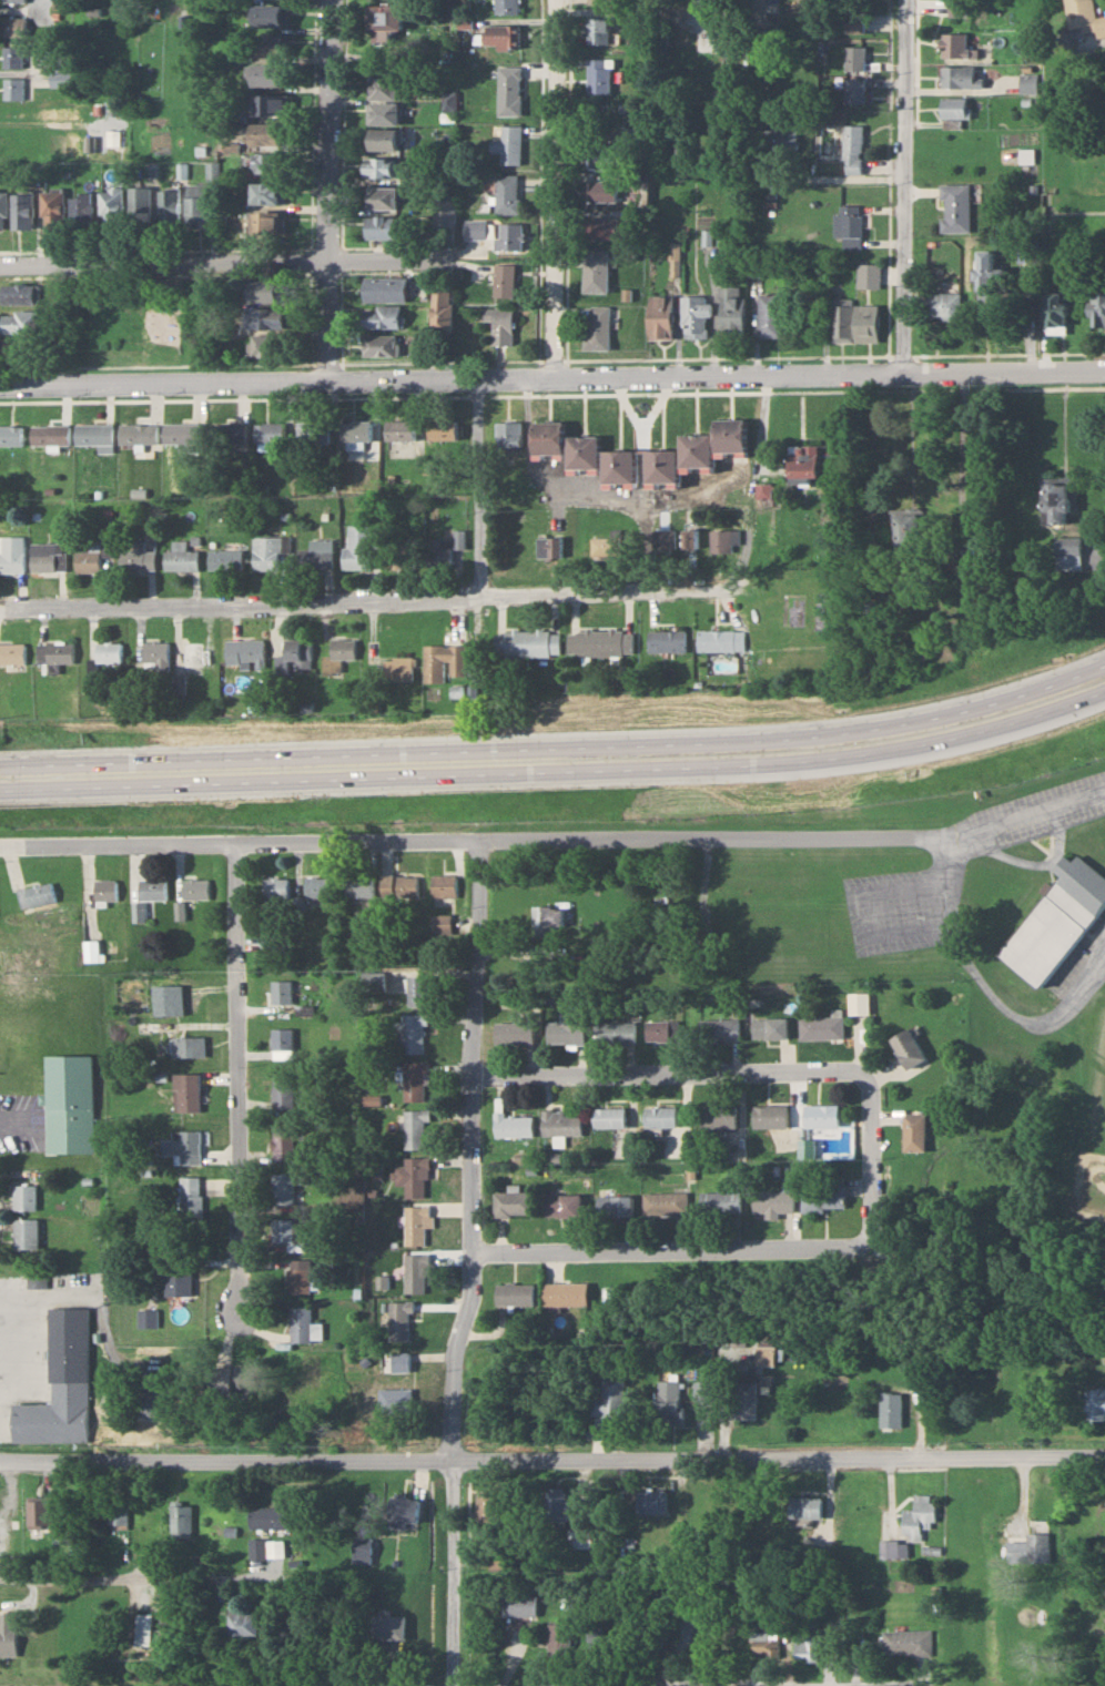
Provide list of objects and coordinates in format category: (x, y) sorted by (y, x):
building: (14, 1)
building: (599, 1)
building: (507, 6)
building: (956, 7)
building: (270, 14)
building: (384, 17)
building: (1083, 20)
building: (854, 21)
building: (14, 27)
building: (597, 29)
building: (501, 35)
building: (730, 38)
building: (761, 41)
building: (267, 43)
building: (954, 45)
building: (13, 57)
building: (854, 58)
building: (268, 73)
building: (598, 75)
building: (959, 77)
building: (1027, 82)
building: (383, 87)
building: (14, 88)
building: (508, 89)
building: (854, 90)
building: (448, 100)
building: (270, 103)
building: (953, 106)
building: (383, 113)
building: (266, 133)
building: (383, 138)
building: (775, 139)
building: (508, 143)
building: (852, 149)
building: (601, 154)
building: (268, 162)
building: (383, 166)
building: (762, 172)
road: (557, 186)
road: (905, 186)
road: (332, 189)
building: (600, 191)
building: (268, 192)
building: (507, 193)
building: (383, 196)
building: (199, 206)
building: (3, 207)
building: (53, 207)
building: (113, 207)
building: (142, 207)
building: (171, 207)
building: (955, 207)
building: (23, 210)
building: (83, 210)
building: (444, 210)
building: (268, 221)
building: (381, 225)
building: (849, 225)
building: (601, 227)
building: (474, 228)
building: (508, 236)
road: (217, 256)
building: (596, 271)
building: (989, 275)
building: (504, 280)
building: (384, 288)
building: (267, 291)
building: (21, 293)
building: (943, 306)
building: (1097, 308)
building: (732, 309)
building: (443, 311)
building: (1056, 311)
building: (383, 315)
building: (696, 315)
building: (771, 315)
building: (265, 316)
building: (660, 317)
building: (20, 321)
building: (856, 323)
building: (500, 324)
building: (597, 327)
building: (267, 344)
building: (379, 344)
building: (20, 346)
road: (551, 374)
building: (399, 429)
building: (442, 429)
building: (227, 431)
building: (270, 431)
building: (313, 431)
building: (51, 433)
building: (139, 433)
building: (183, 433)
building: (355, 433)
building: (11, 434)
building: (729, 434)
building: (97, 435)
building: (508, 435)
building: (547, 436)
building: (695, 449)
building: (582, 451)
building: (804, 460)
building: (660, 465)
building: (619, 466)
road: (478, 487)
road: (977, 488)
building: (764, 490)
road: (658, 502)
building: (1057, 502)
building: (911, 531)
building: (689, 538)
building: (665, 539)
building: (728, 540)
building: (549, 546)
building: (358, 547)
building: (604, 547)
building: (442, 549)
building: (12, 553)
building: (266, 553)
building: (398, 553)
building: (1069, 553)
building: (315, 555)
building: (50, 557)
building: (139, 557)
building: (181, 557)
building: (89, 559)
building: (225, 559)
road: (670, 590)
road: (240, 602)
building: (875, 612)
building: (720, 640)
building: (665, 641)
building: (599, 642)
building: (526, 643)
building: (342, 649)
building: (110, 652)
building: (156, 652)
building: (245, 652)
building: (12, 653)
building: (57, 653)
building: (295, 654)
building: (193, 657)
building: (443, 662)
building: (398, 669)
road: (557, 746)
road: (557, 770)
road: (1026, 811)
road: (474, 844)
building: (444, 885)
building: (318, 886)
building: (358, 886)
building: (401, 886)
building: (277, 887)
building: (153, 888)
building: (196, 888)
building: (105, 890)
building: (37, 894)
building: (139, 912)
building: (550, 920)
building: (1055, 921)
building: (442, 925)
building: (701, 933)
building: (282, 941)
road: (359, 946)
building: (91, 951)
road: (991, 977)
building: (374, 981)
building: (282, 991)
building: (418, 991)
building: (170, 1001)
building: (858, 1004)
building: (567, 1027)
building: (820, 1027)
building: (768, 1028)
building: (660, 1029)
building: (719, 1029)
building: (415, 1030)
building: (514, 1033)
building: (617, 1033)
building: (282, 1039)
building: (187, 1046)
building: (908, 1048)
road: (676, 1070)
road: (240, 1077)
building: (414, 1080)
building: (283, 1090)
building: (187, 1091)
building: (69, 1103)
building: (660, 1116)
building: (718, 1116)
building: (770, 1116)
building: (821, 1116)
building: (609, 1117)
building: (560, 1123)
building: (513, 1125)
building: (414, 1128)
building: (914, 1133)
building: (282, 1142)
building: (184, 1146)
road: (873, 1165)
building: (412, 1177)
building: (282, 1188)
building: (821, 1196)
building: (24, 1197)
building: (191, 1200)
building: (718, 1201)
building: (667, 1202)
building: (772, 1202)
building: (513, 1203)
building: (561, 1205)
building: (614, 1206)
building: (416, 1223)
building: (287, 1230)
building: (26, 1233)
road: (671, 1247)
road: (473, 1266)
building: (415, 1272)
building: (300, 1276)
building: (36, 1278)
building: (178, 1280)
building: (564, 1293)
building: (515, 1294)
building: (146, 1318)
building: (398, 1321)
building: (304, 1327)
building: (1098, 1348)
building: (399, 1363)
building: (233, 1378)
building: (750, 1383)
building: (60, 1384)
building: (701, 1391)
building: (608, 1398)
building: (152, 1402)
building: (395, 1402)
building: (668, 1402)
building: (1096, 1405)
building: (891, 1410)
road: (551, 1456)
building: (650, 1502)
building: (554, 1505)
building: (805, 1507)
building: (489, 1510)
building: (402, 1511)
building: (39, 1513)
building: (119, 1514)
building: (919, 1514)
building: (267, 1516)
building: (181, 1520)
building: (578, 1538)
building: (1037, 1547)
building: (256, 1548)
building: (274, 1548)
building: (893, 1548)
building: (361, 1550)
road: (135, 1578)
building: (516, 1605)
building: (240, 1623)
building: (385, 1627)
building: (144, 1631)
building: (650, 1633)
building: (8, 1634)
building: (760, 1635)
building: (557, 1639)
building: (908, 1643)
building: (611, 1646)
building: (805, 1647)
road: (710, 1684)
road: (893, 1685)

